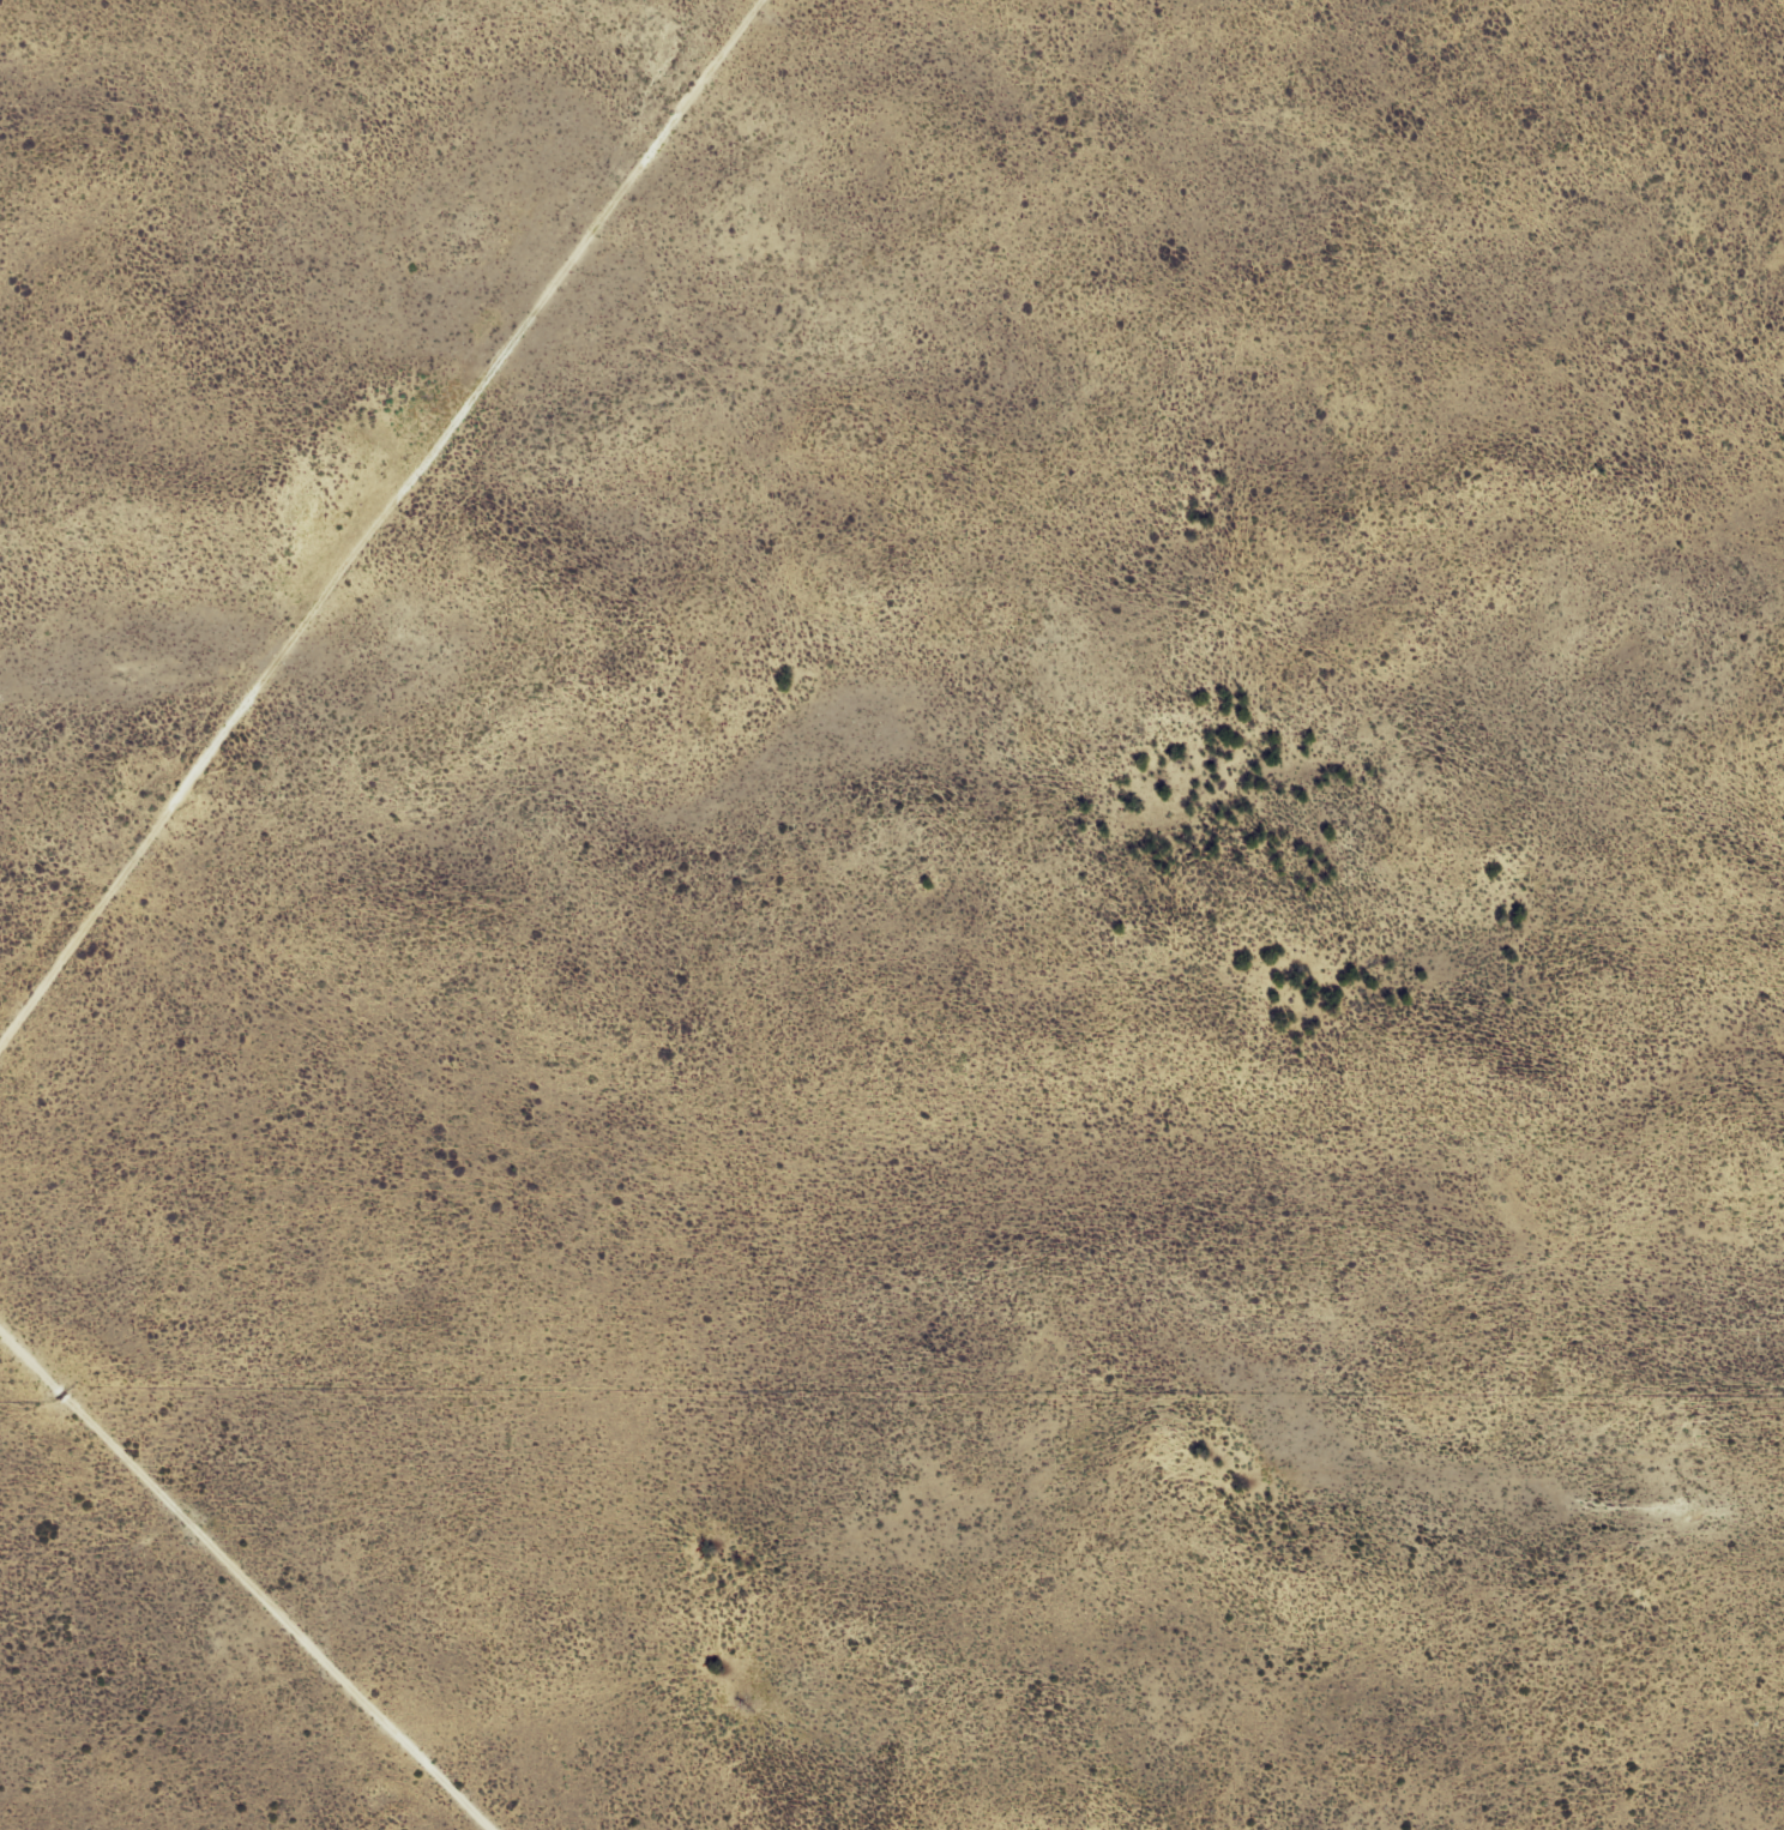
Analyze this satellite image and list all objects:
road: (402, 538)
road: (267, 1555)

